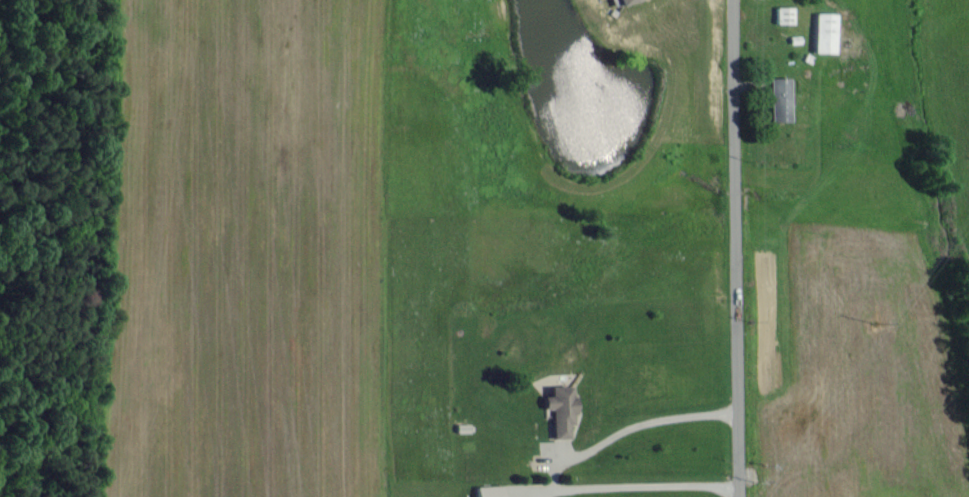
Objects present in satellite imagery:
building: (622, 1)
building: (823, 32)
building: (777, 99)
road: (732, 248)
building: (559, 409)
road: (646, 424)
building: (488, 491)

